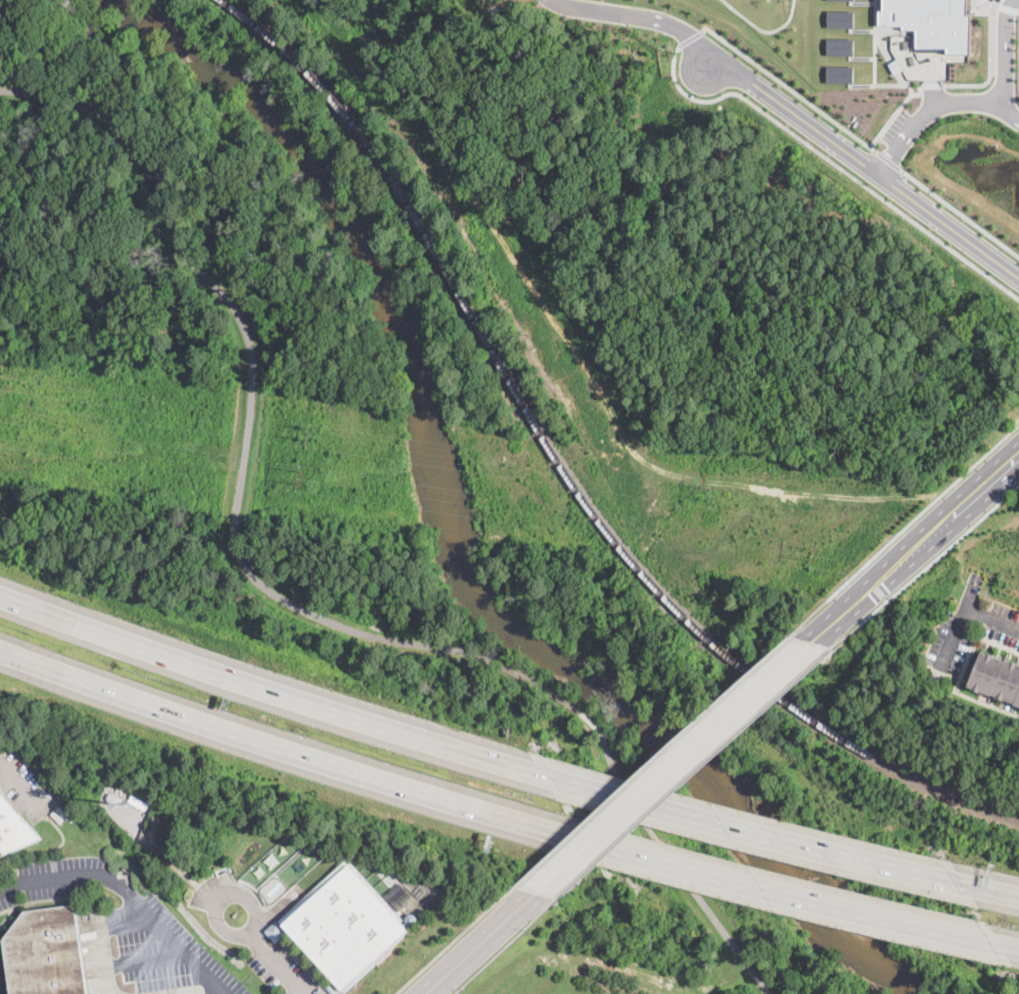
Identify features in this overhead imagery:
road: (995, 4)
road: (1006, 7)
road: (1017, 10)
road: (636, 14)
building: (840, 18)
building: (931, 22)
road: (764, 28)
building: (839, 45)
road: (1003, 54)
road: (989, 61)
road: (874, 64)
building: (839, 73)
road: (931, 83)
road: (801, 96)
road: (935, 107)
road: (895, 111)
park: (30, 147)
road: (888, 160)
road: (865, 165)
road: (847, 172)
road: (960, 212)
park: (235, 377)
power tower: (311, 431)
park: (481, 453)
power tower: (299, 474)
power tower: (711, 492)
road: (944, 521)
road: (908, 523)
power tower: (812, 550)
road: (940, 553)
road: (282, 604)
road: (842, 616)
road: (991, 619)
road: (958, 622)
building: (997, 676)
road: (271, 686)
road: (281, 748)
road: (659, 756)
road: (676, 769)
road: (22, 783)
building: (114, 797)
building: (139, 800)
building: (13, 829)
road: (751, 830)
road: (989, 889)
road: (787, 893)
road: (129, 896)
building: (410, 918)
park: (1008, 921)
building: (344, 924)
building: (276, 931)
road: (99, 935)
road: (454, 939)
road: (482, 945)
road: (505, 945)
road: (1014, 948)
building: (45, 953)
road: (270, 954)
road: (143, 960)
park: (818, 979)
building: (331, 988)
road: (198, 991)
building: (96, 993)

